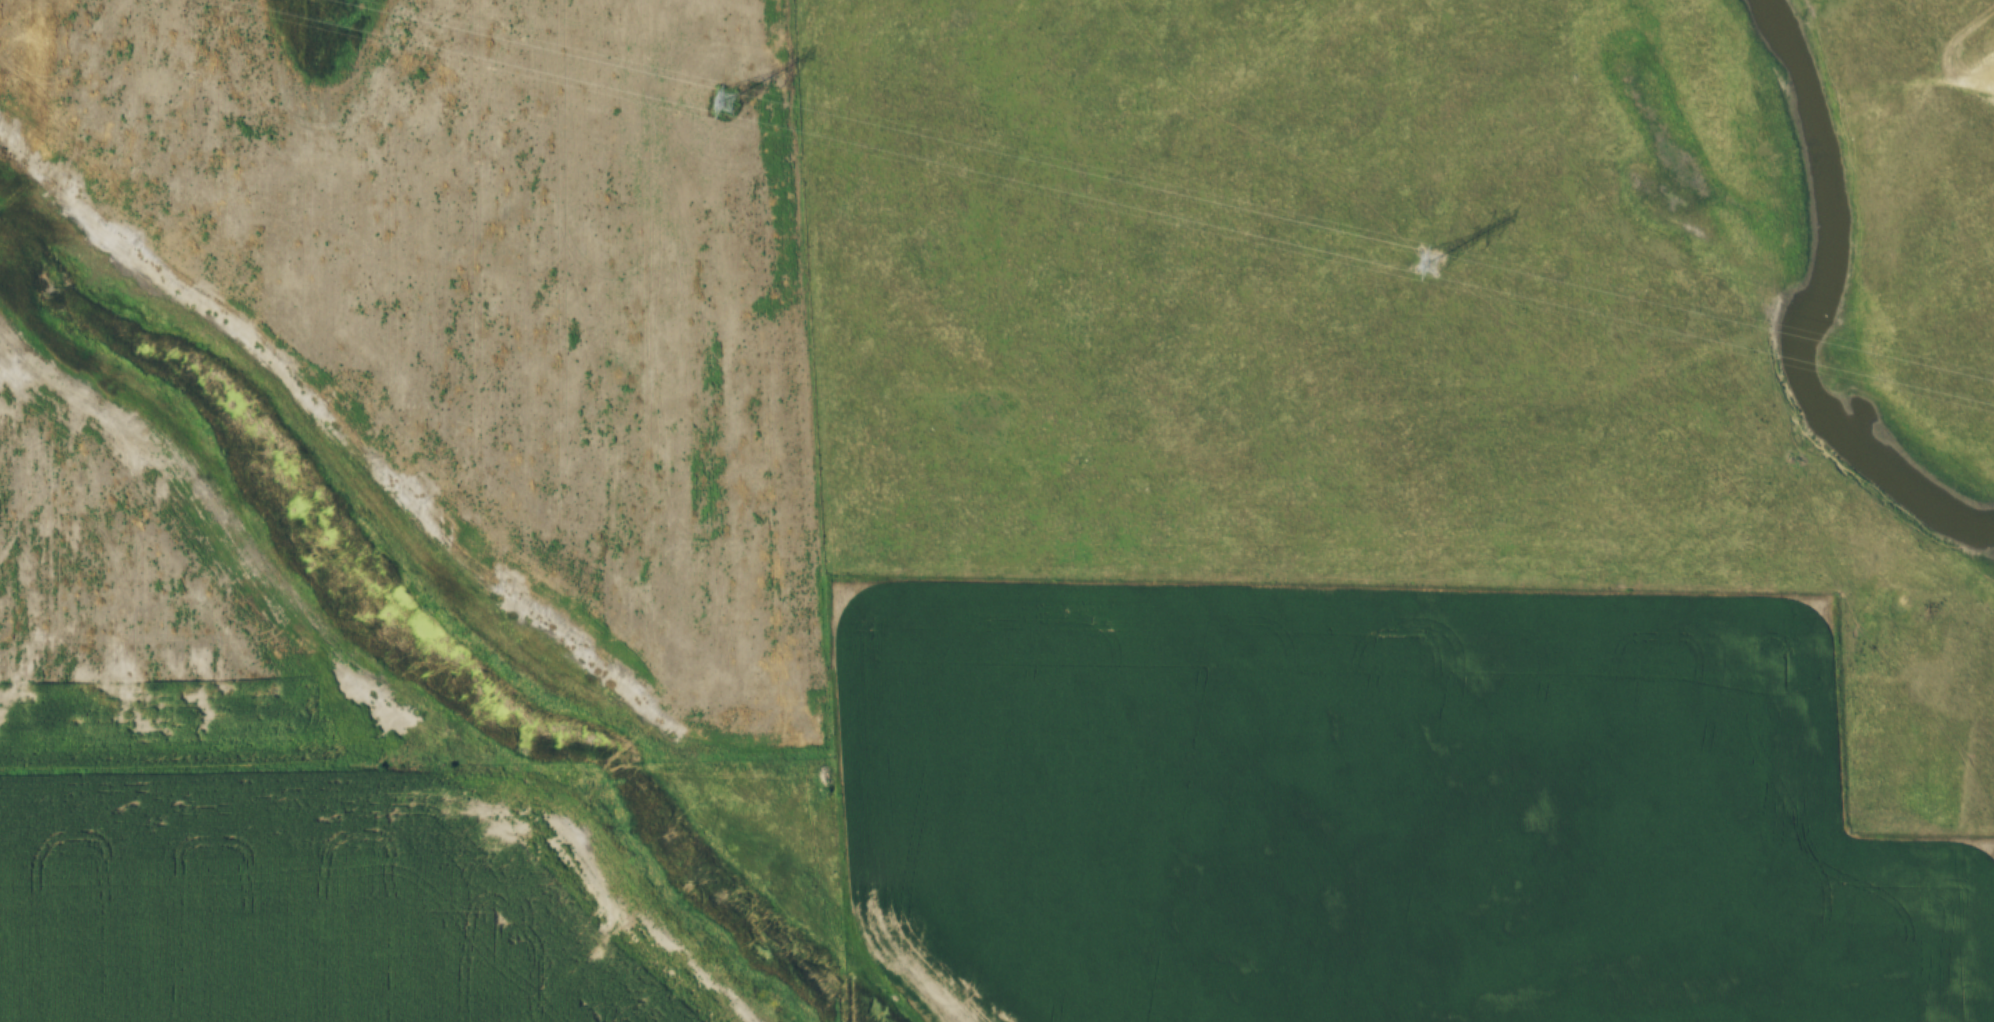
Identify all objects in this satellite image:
power tower: (740, 104)
power tower: (1426, 266)

